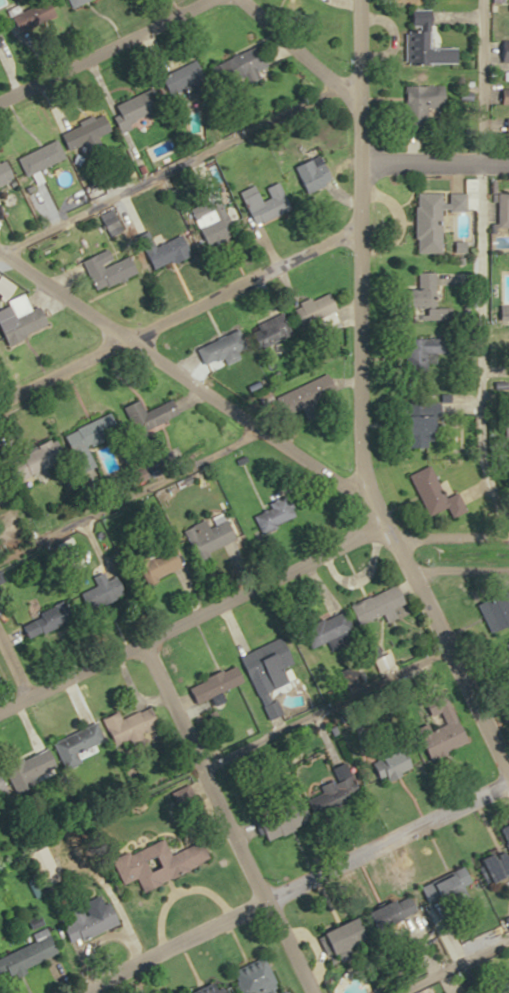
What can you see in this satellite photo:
building: (36, 13)
road: (99, 48)
road: (294, 48)
building: (501, 57)
building: (243, 66)
building: (185, 80)
building: (501, 97)
building: (417, 105)
building: (140, 106)
building: (504, 126)
building: (43, 156)
road: (432, 159)
building: (6, 171)
building: (315, 172)
building: (269, 202)
building: (498, 210)
building: (1, 211)
building: (451, 213)
building: (216, 223)
building: (422, 223)
building: (171, 250)
building: (110, 268)
road: (354, 287)
road: (177, 306)
building: (321, 306)
building: (503, 312)
building: (34, 318)
building: (283, 324)
building: (222, 349)
building: (414, 356)
road: (188, 384)
building: (150, 413)
building: (411, 431)
building: (94, 432)
building: (505, 436)
building: (144, 472)
building: (423, 491)
building: (272, 514)
road: (408, 525)
building: (214, 535)
building: (163, 564)
road: (454, 572)
building: (99, 592)
building: (379, 607)
building: (492, 609)
building: (48, 621)
road: (157, 626)
building: (332, 628)
building: (504, 650)
building: (383, 664)
building: (273, 666)
road: (455, 674)
road: (9, 677)
building: (218, 683)
building: (131, 724)
building: (435, 727)
building: (82, 744)
building: (387, 764)
building: (33, 770)
building: (330, 787)
road: (222, 814)
building: (284, 821)
building: (495, 857)
building: (161, 863)
building: (49, 865)
road: (290, 886)
building: (437, 887)
building: (93, 922)
road: (404, 925)
building: (335, 936)
building: (33, 953)
building: (259, 977)
building: (225, 990)

